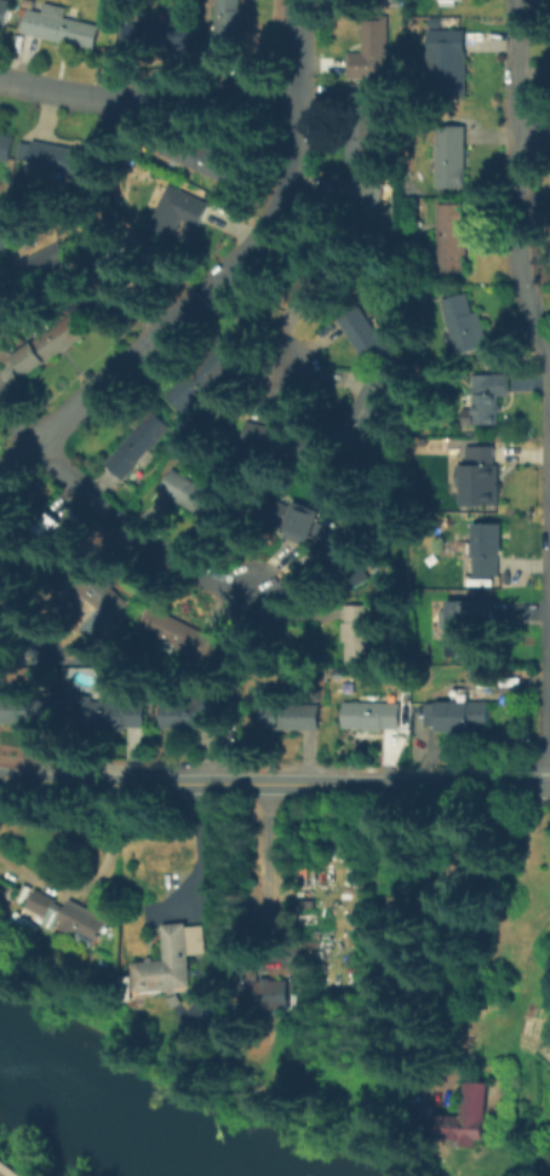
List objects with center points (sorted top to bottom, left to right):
building: (452, 1)
building: (6, 13)
building: (58, 27)
building: (229, 28)
building: (155, 35)
building: (371, 51)
building: (448, 67)
road: (151, 101)
building: (360, 131)
road: (535, 140)
building: (6, 148)
building: (449, 159)
building: (201, 160)
building: (65, 161)
road: (520, 183)
building: (365, 200)
building: (170, 216)
building: (2, 240)
building: (452, 243)
building: (118, 263)
building: (41, 271)
road: (224, 276)
building: (311, 281)
building: (464, 327)
road: (267, 328)
building: (367, 339)
building: (51, 346)
building: (230, 358)
building: (191, 391)
building: (488, 398)
building: (367, 413)
road: (18, 420)
building: (280, 443)
building: (139, 446)
building: (487, 478)
building: (197, 500)
building: (291, 517)
road: (139, 535)
building: (488, 551)
building: (345, 563)
building: (102, 590)
building: (468, 627)
building: (179, 633)
building: (357, 635)
building: (23, 712)
building: (108, 716)
building: (184, 717)
building: (292, 717)
building: (457, 717)
building: (378, 718)
road: (34, 779)
road: (310, 784)
road: (259, 853)
road: (195, 861)
building: (70, 918)
building: (167, 964)
building: (270, 994)
river: (128, 1106)
building: (469, 1120)
road: (7, 1170)
road: (7, 1170)

